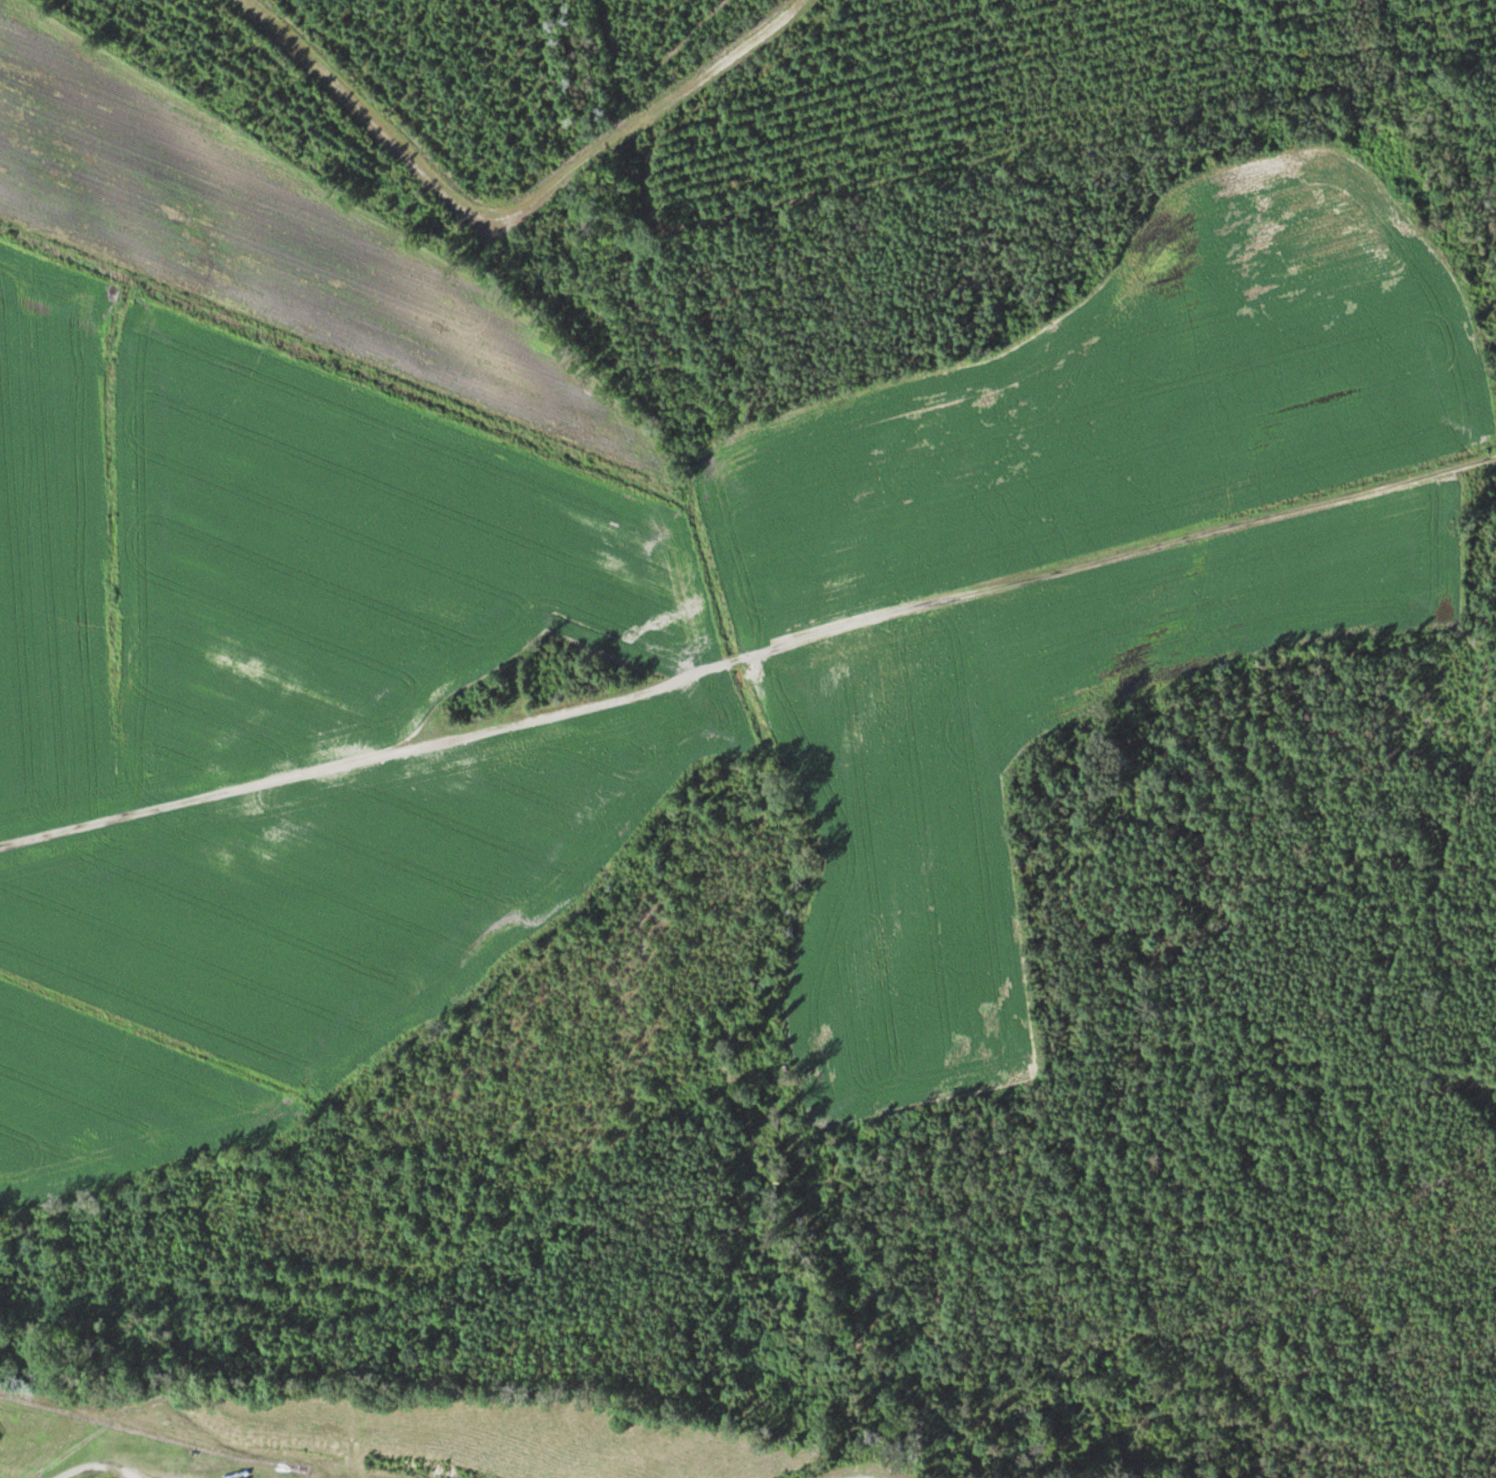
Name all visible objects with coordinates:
road: (516, 206)

